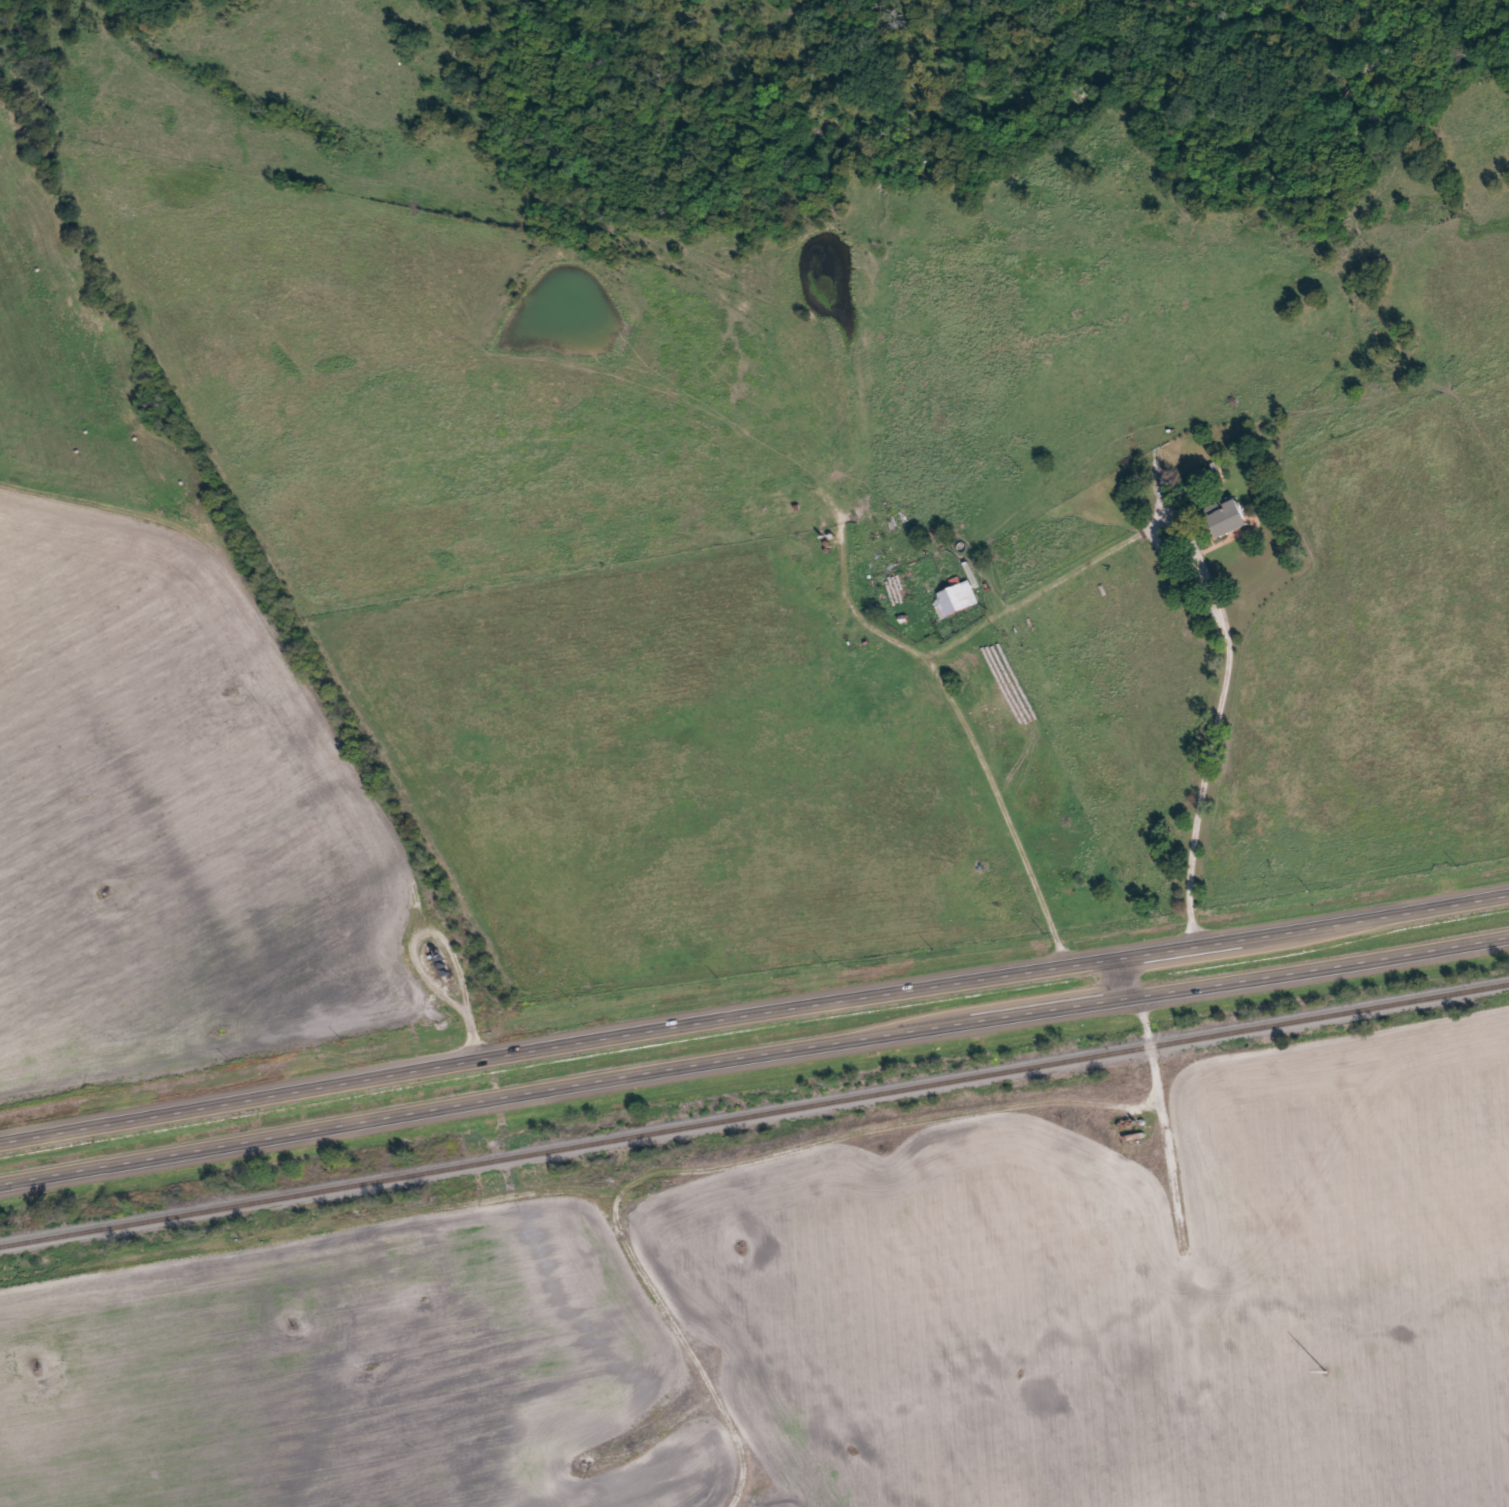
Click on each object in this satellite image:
building: (1223, 518)
road: (1042, 578)
building: (952, 599)
road: (1211, 715)
road: (406, 947)
road: (1300, 956)
road: (753, 1007)
road: (472, 1032)
road: (1151, 1047)
road: (545, 1087)
railway: (754, 1115)
building: (1135, 1140)

